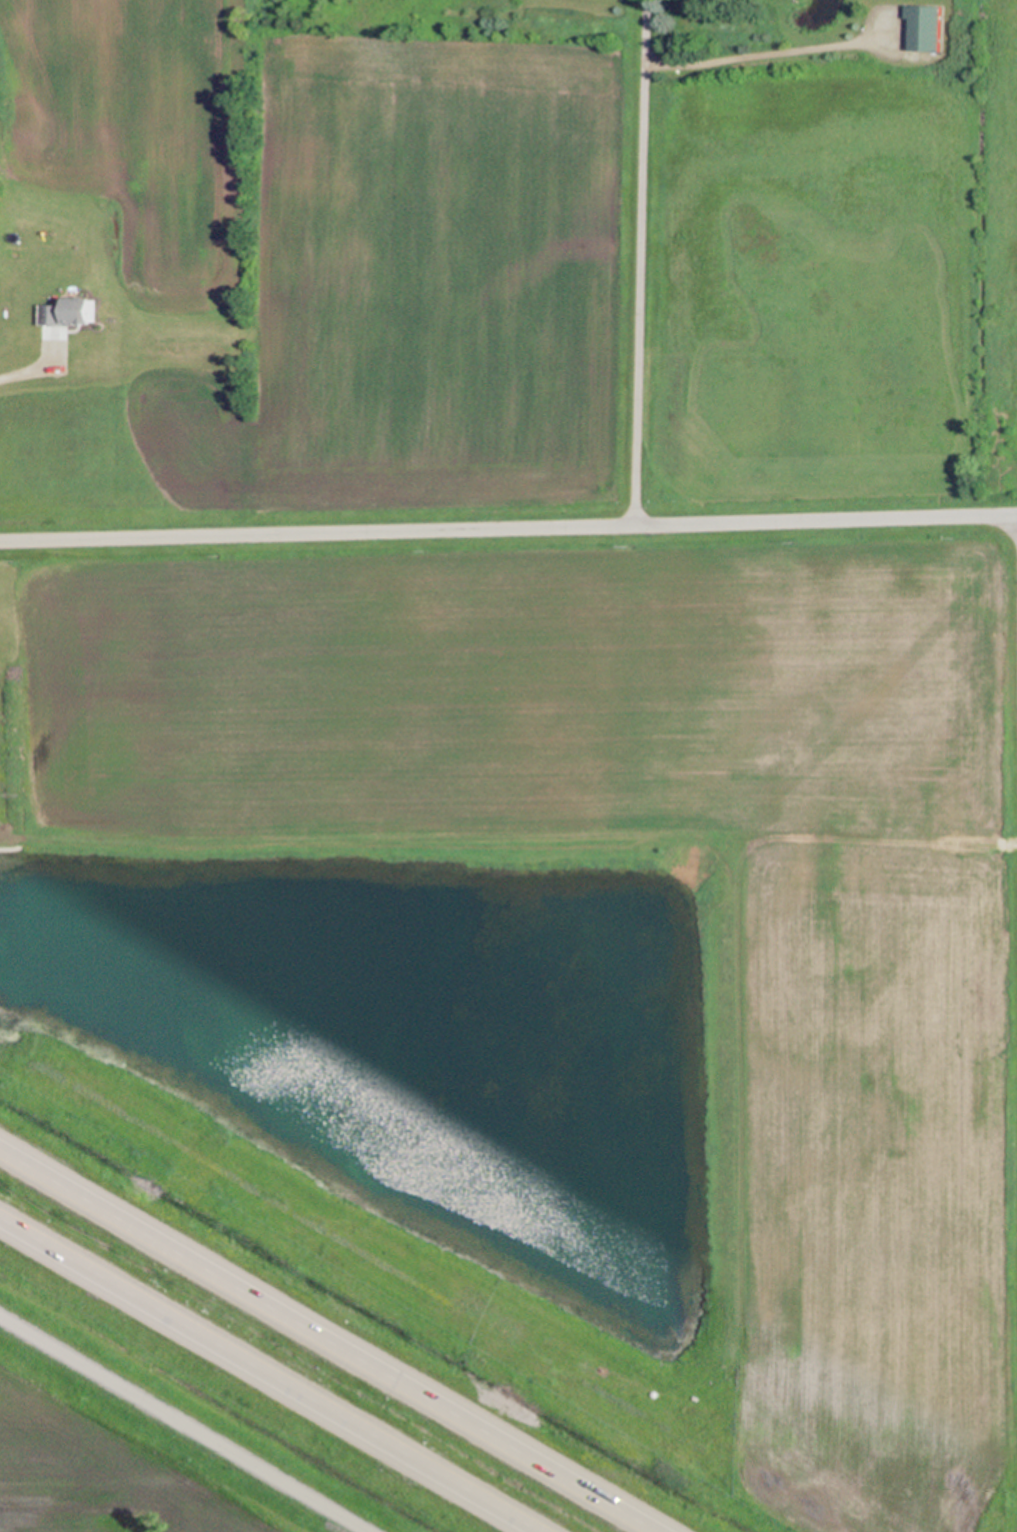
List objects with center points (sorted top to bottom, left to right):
building: (925, 27)
road: (760, 51)
road: (636, 261)
building: (72, 314)
road: (36, 362)
road: (508, 528)
building: (679, 922)
road: (327, 1340)
road: (270, 1374)
road: (184, 1424)

